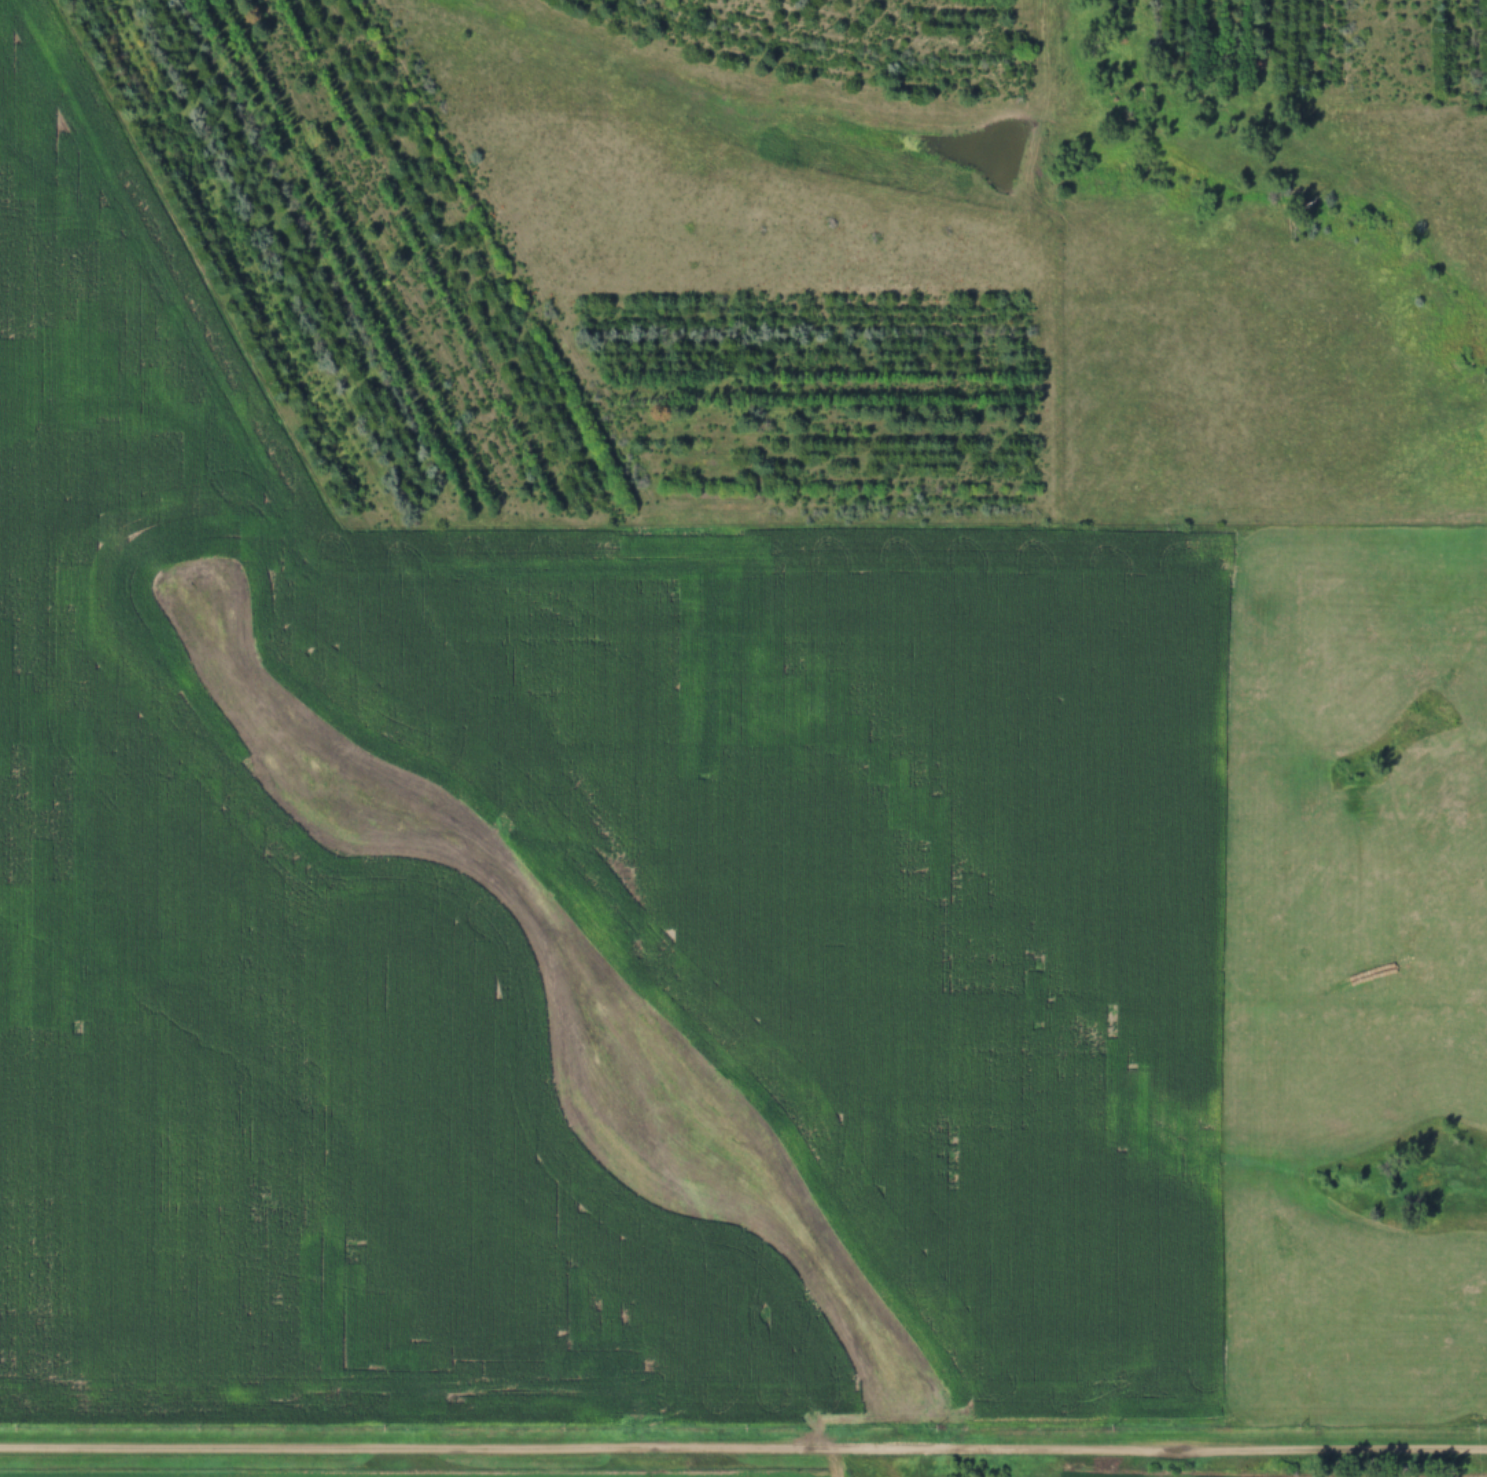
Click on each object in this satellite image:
building: (34, 1133)
road: (743, 1450)
road: (843, 1463)

